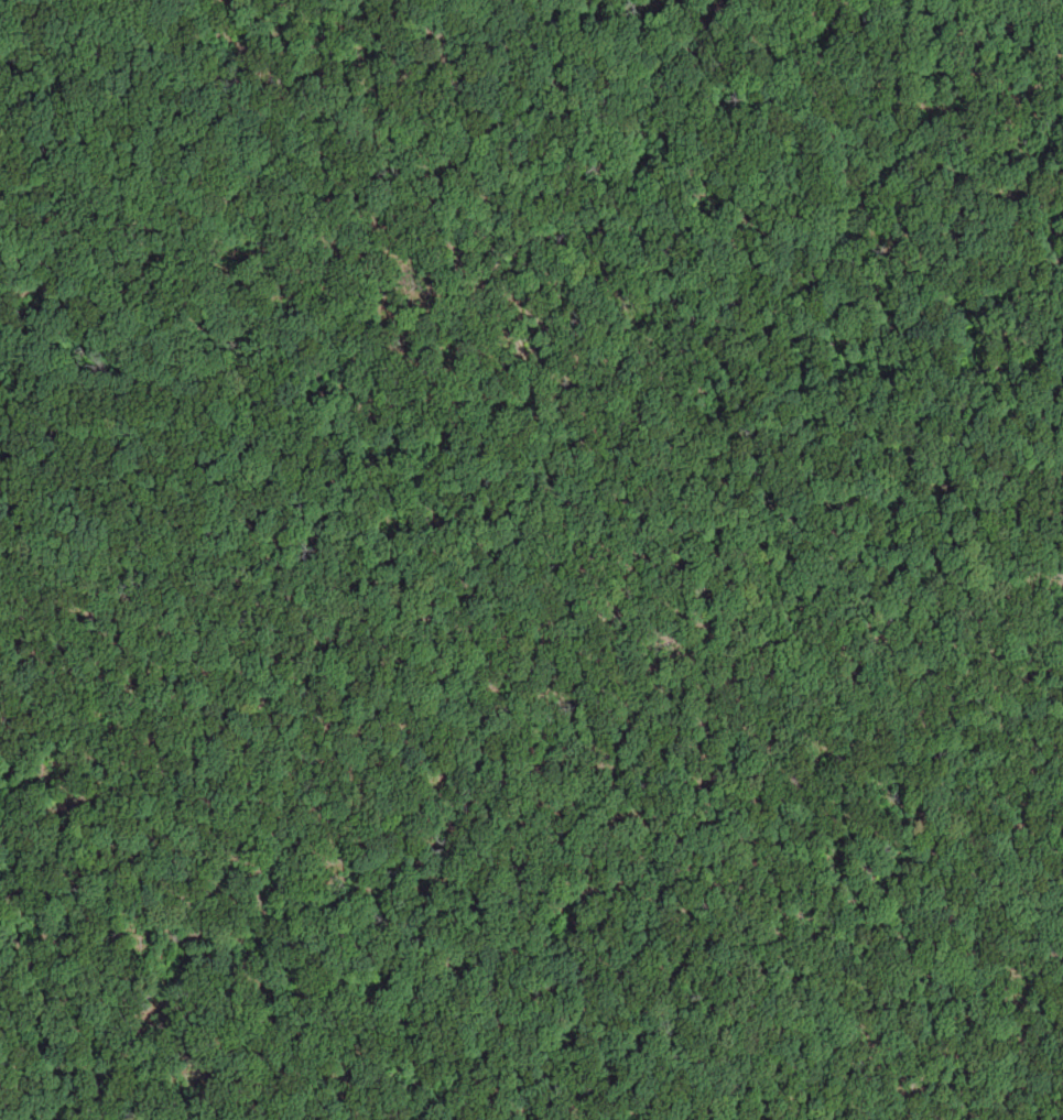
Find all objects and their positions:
park: (509, 537)
road: (588, 559)
road: (1023, 879)

